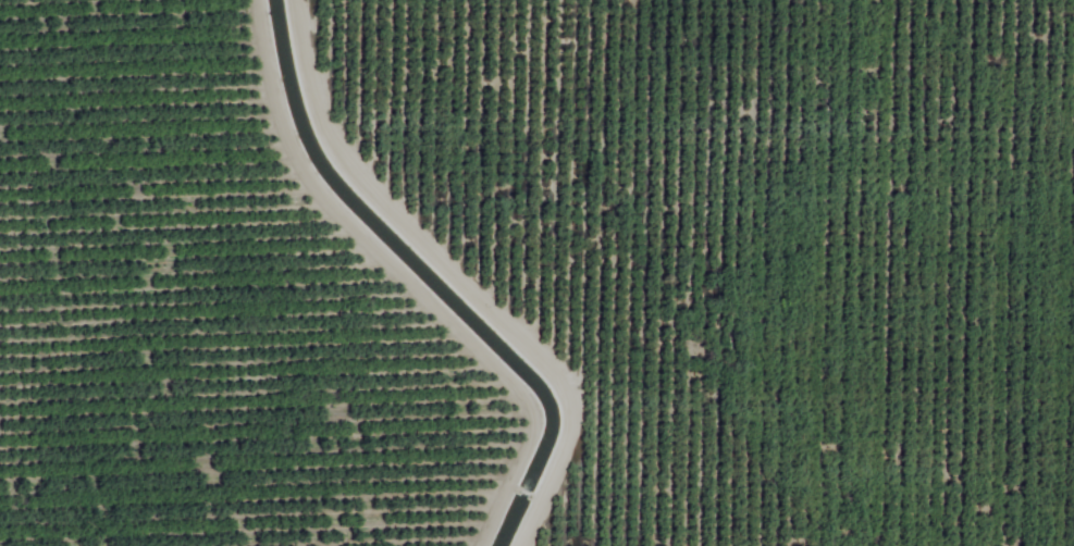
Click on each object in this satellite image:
crop: (536, 273)

